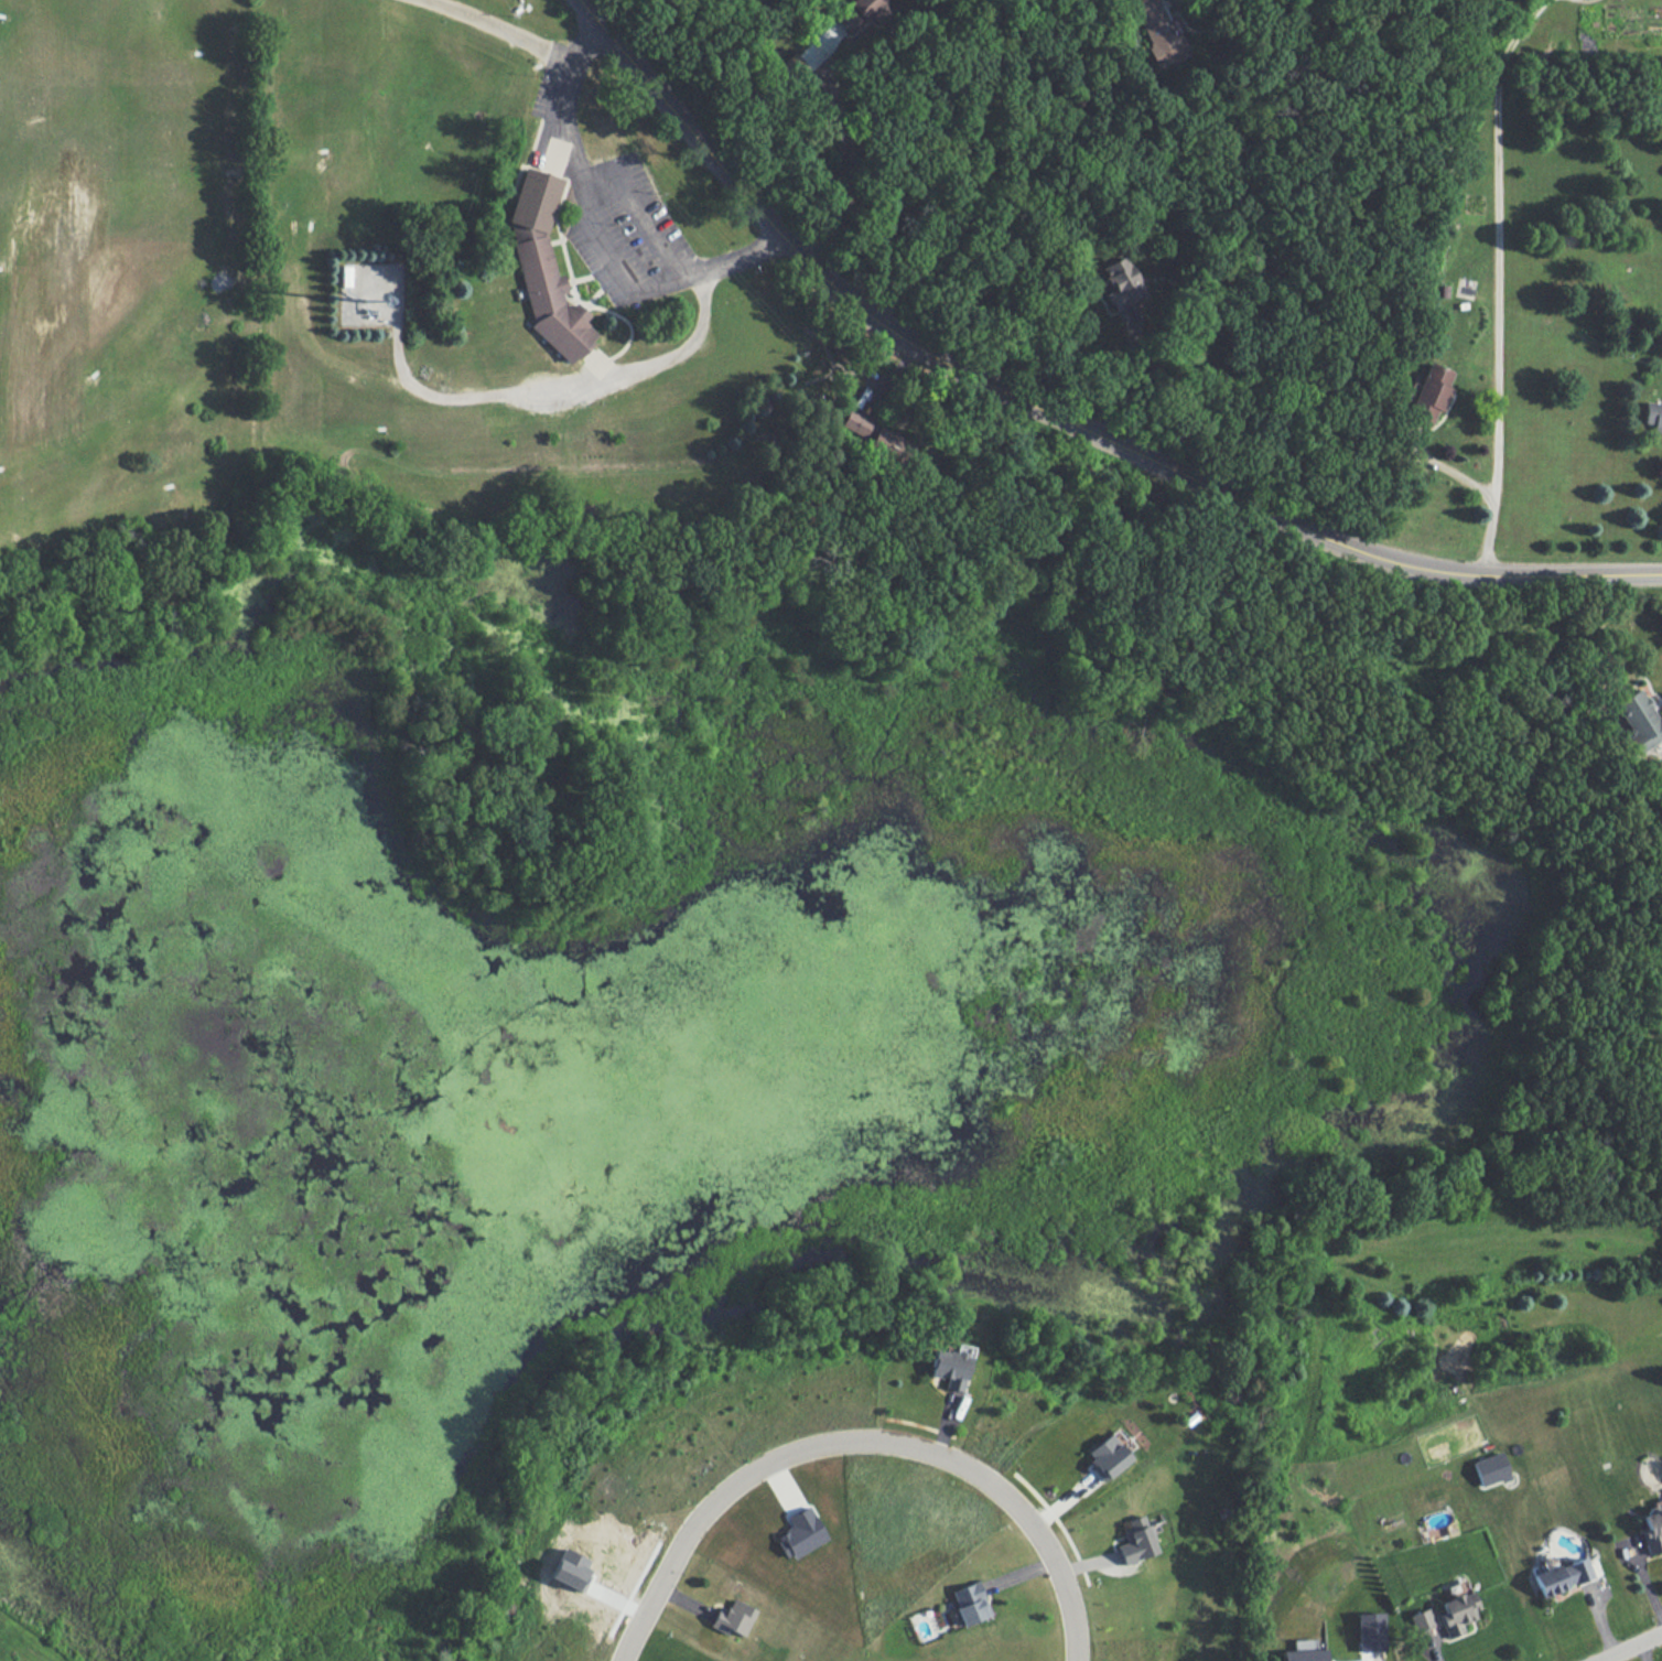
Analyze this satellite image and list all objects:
building: (861, 12)
road: (500, 29)
building: (1156, 32)
building: (817, 47)
parking lot: (543, 90)
road: (563, 119)
road: (560, 126)
road: (540, 133)
road: (971, 133)
road: (848, 163)
road: (600, 177)
building: (533, 201)
road: (647, 226)
parking lot: (629, 234)
road: (557, 240)
road: (562, 252)
road: (798, 256)
road: (607, 258)
park: (260, 259)
road: (709, 267)
building: (536, 270)
building: (345, 276)
road: (576, 278)
road: (1498, 281)
building: (1119, 282)
flagpole: (585, 290)
road: (582, 306)
road: (627, 322)
building: (564, 328)
road: (608, 375)
road: (601, 376)
road: (1124, 379)
road: (560, 388)
building: (1429, 393)
building: (1653, 416)
building: (875, 435)
road: (1446, 468)
road: (1360, 552)
building: (1639, 720)
building: (951, 1366)
road: (860, 1437)
building: (1104, 1456)
building: (1490, 1468)
building: (1652, 1528)
building: (802, 1533)
building: (1134, 1541)
building: (571, 1570)
building: (1562, 1576)
building: (970, 1603)
building: (735, 1616)
building: (1420, 1619)
building: (1369, 1631)
road: (1632, 1647)
building: (1304, 1651)
road: (1644, 1652)

